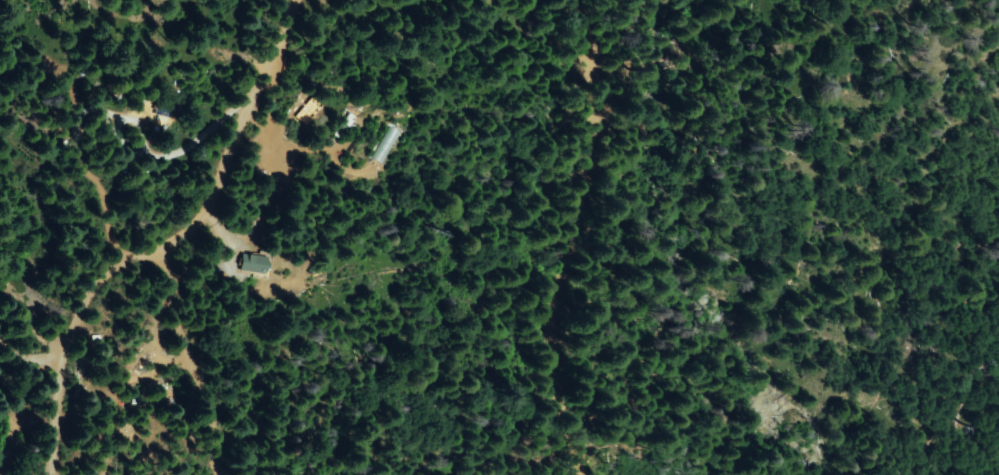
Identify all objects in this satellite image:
building: (112, 91)
building: (164, 113)
building: (344, 126)
building: (284, 172)
road: (568, 237)
building: (252, 262)
road: (618, 302)

